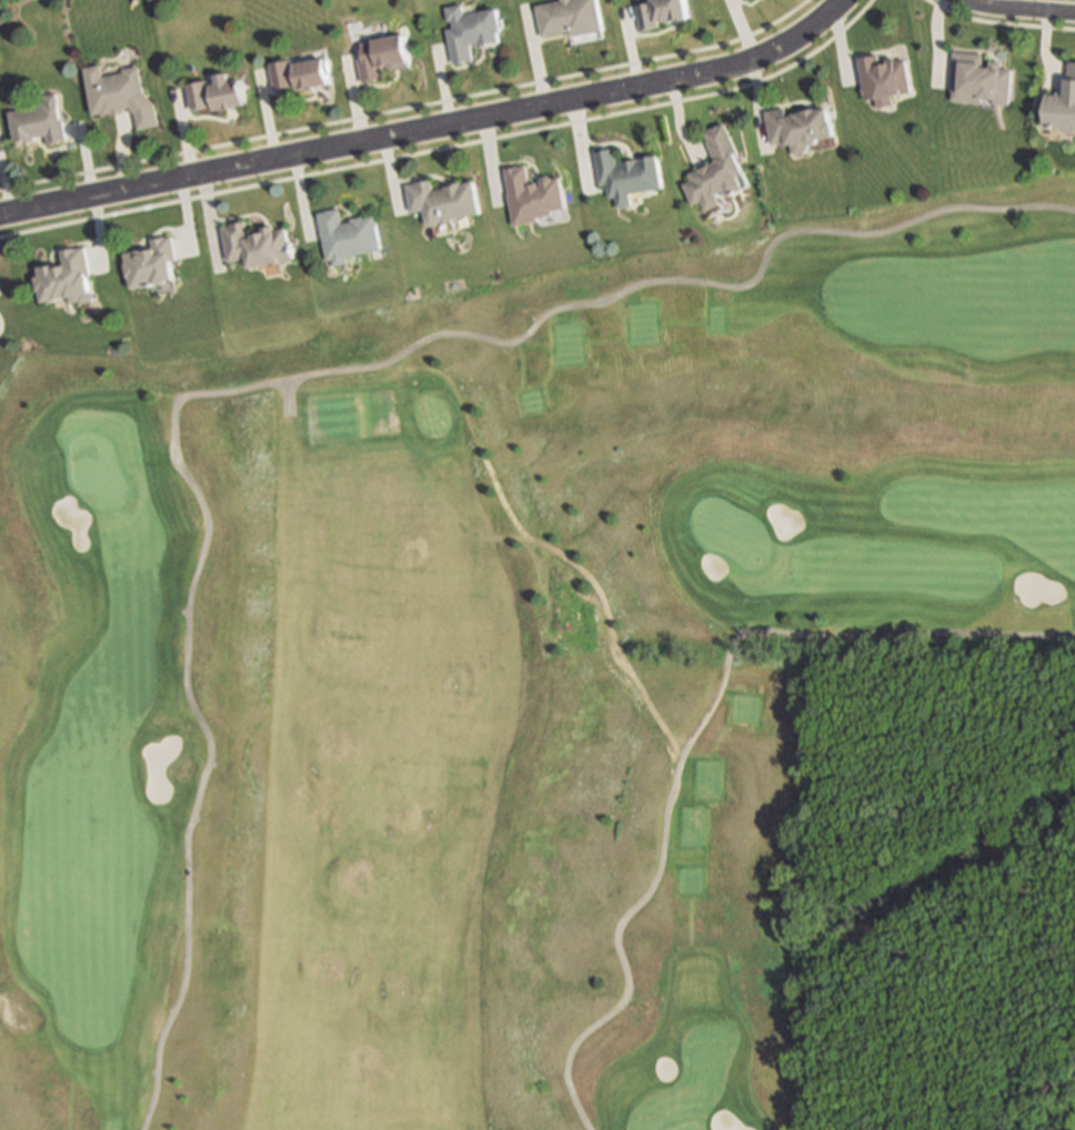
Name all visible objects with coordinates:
building: (745, 0)
road: (1018, 8)
building: (656, 9)
building: (565, 14)
building: (468, 27)
building: (380, 52)
building: (298, 69)
building: (883, 74)
building: (978, 74)
building: (214, 88)
building: (120, 91)
building: (1062, 99)
building: (39, 119)
building: (797, 123)
road: (426, 125)
road: (445, 148)
building: (715, 167)
building: (625, 171)
building: (532, 191)
building: (441, 198)
building: (348, 232)
building: (258, 241)
building: (152, 260)
building: (67, 274)
road: (277, 382)
park: (92, 473)
park: (726, 533)
park: (498, 669)
road: (691, 734)

